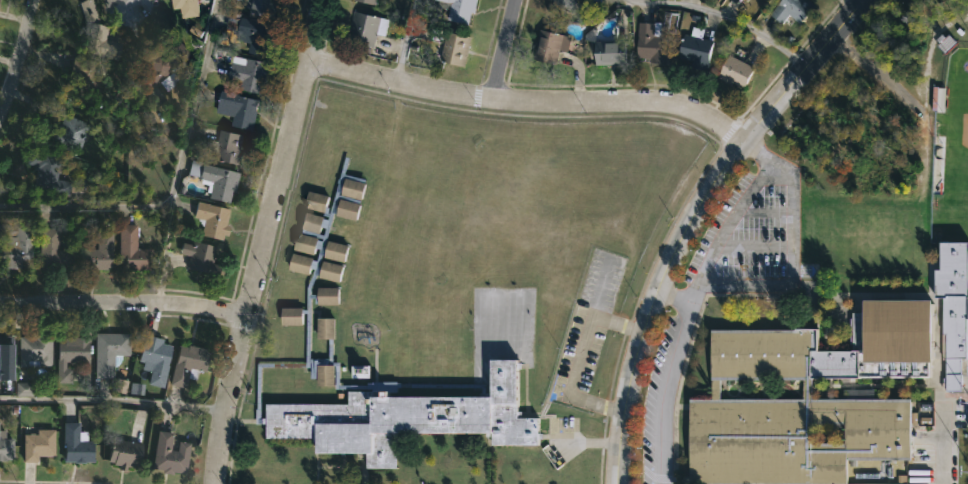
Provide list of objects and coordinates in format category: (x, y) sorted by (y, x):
road: (123, 1)
building: (365, 1)
road: (858, 1)
building: (562, 5)
building: (188, 7)
building: (262, 7)
building: (455, 10)
building: (791, 10)
road: (733, 15)
building: (365, 29)
building: (97, 34)
building: (252, 34)
road: (400, 40)
building: (650, 43)
building: (548, 46)
building: (449, 48)
road: (502, 49)
building: (694, 50)
building: (606, 53)
road: (20, 63)
building: (160, 66)
building: (733, 72)
building: (250, 74)
building: (85, 78)
road: (527, 101)
building: (240, 109)
building: (69, 129)
building: (227, 147)
park: (954, 158)
building: (48, 171)
building: (213, 180)
road: (173, 182)
road: (763, 212)
road: (690, 219)
building: (209, 220)
road: (265, 241)
building: (14, 242)
road: (790, 245)
road: (753, 246)
building: (131, 249)
building: (54, 251)
building: (101, 251)
building: (199, 258)
road: (673, 300)
building: (951, 304)
road: (121, 306)
building: (297, 310)
road: (688, 312)
road: (591, 314)
building: (451, 341)
building: (8, 349)
building: (38, 350)
building: (112, 351)
building: (72, 355)
building: (157, 358)
building: (190, 363)
road: (572, 382)
building: (120, 386)
building: (23, 389)
building: (805, 398)
road: (112, 401)
building: (78, 443)
road: (590, 443)
road: (948, 443)
building: (5, 444)
building: (40, 444)
building: (127, 452)
building: (172, 453)

